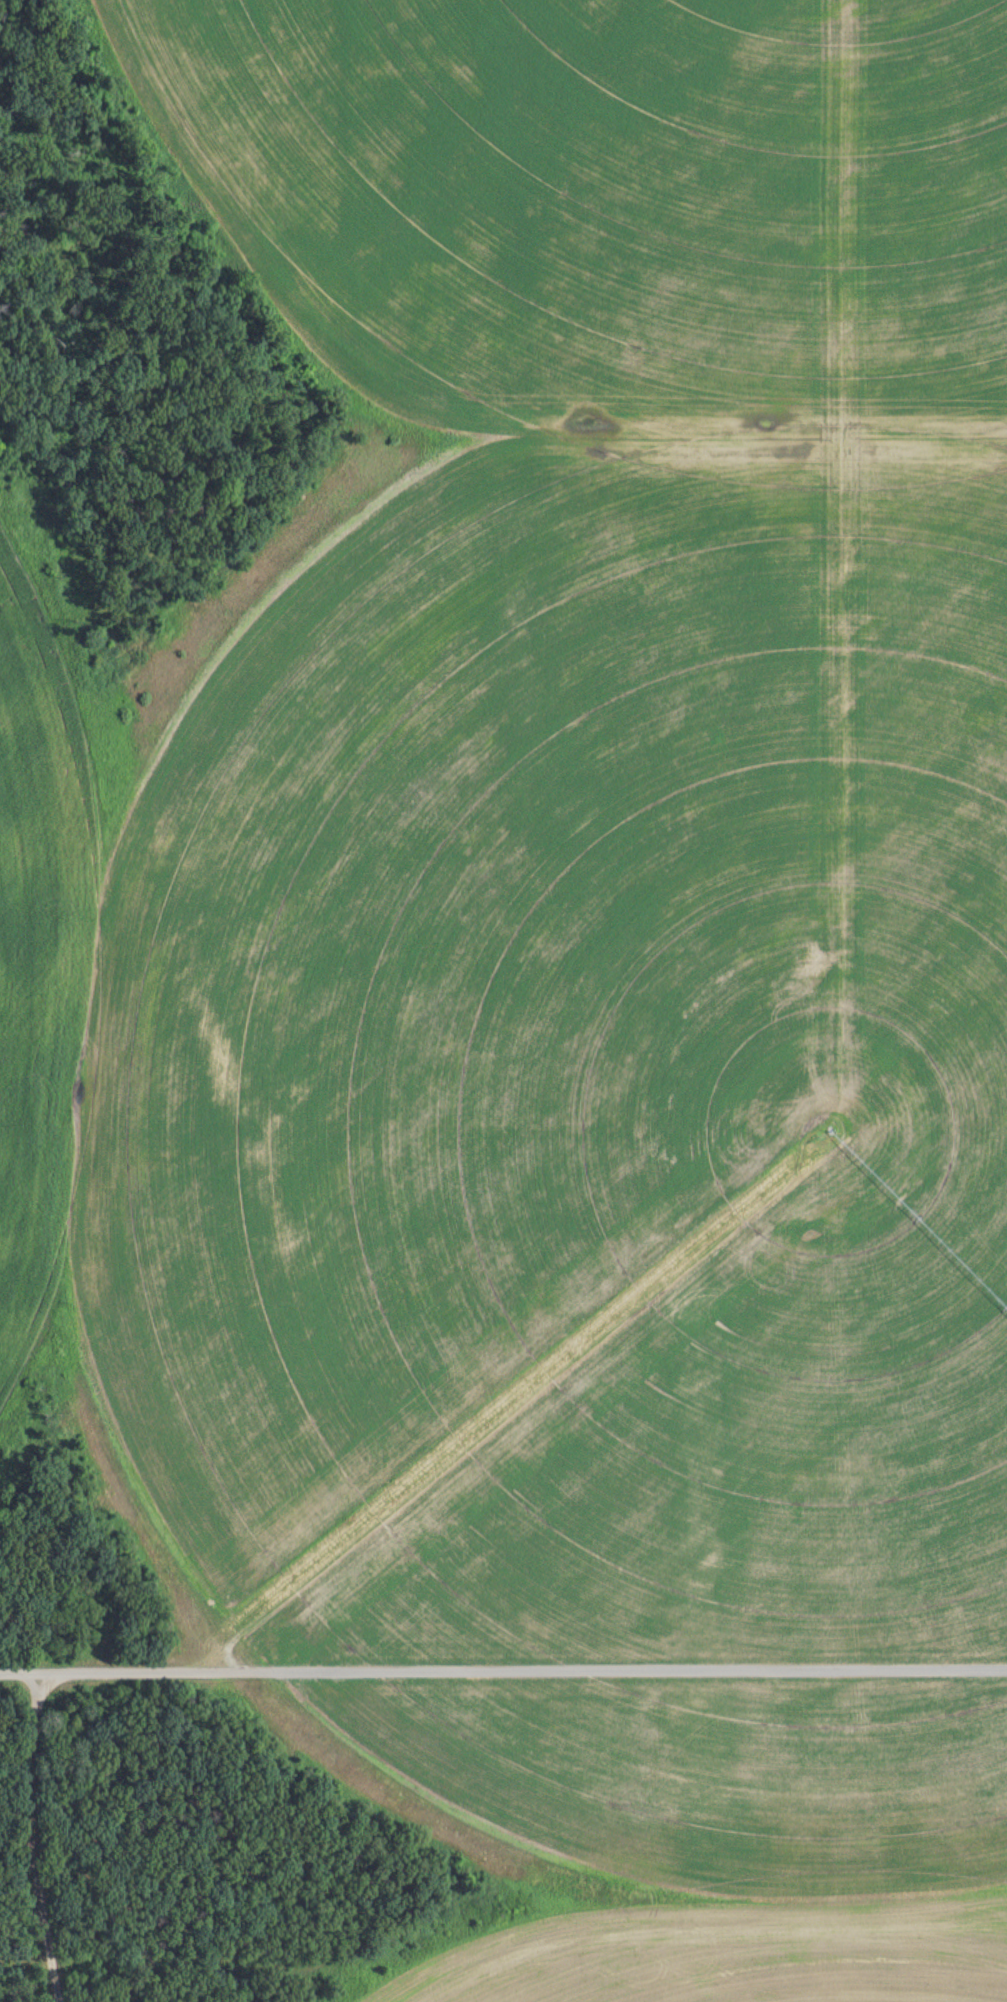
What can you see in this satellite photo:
wastewater plant: (503, 1001)
road: (503, 1671)
road: (33, 1837)

